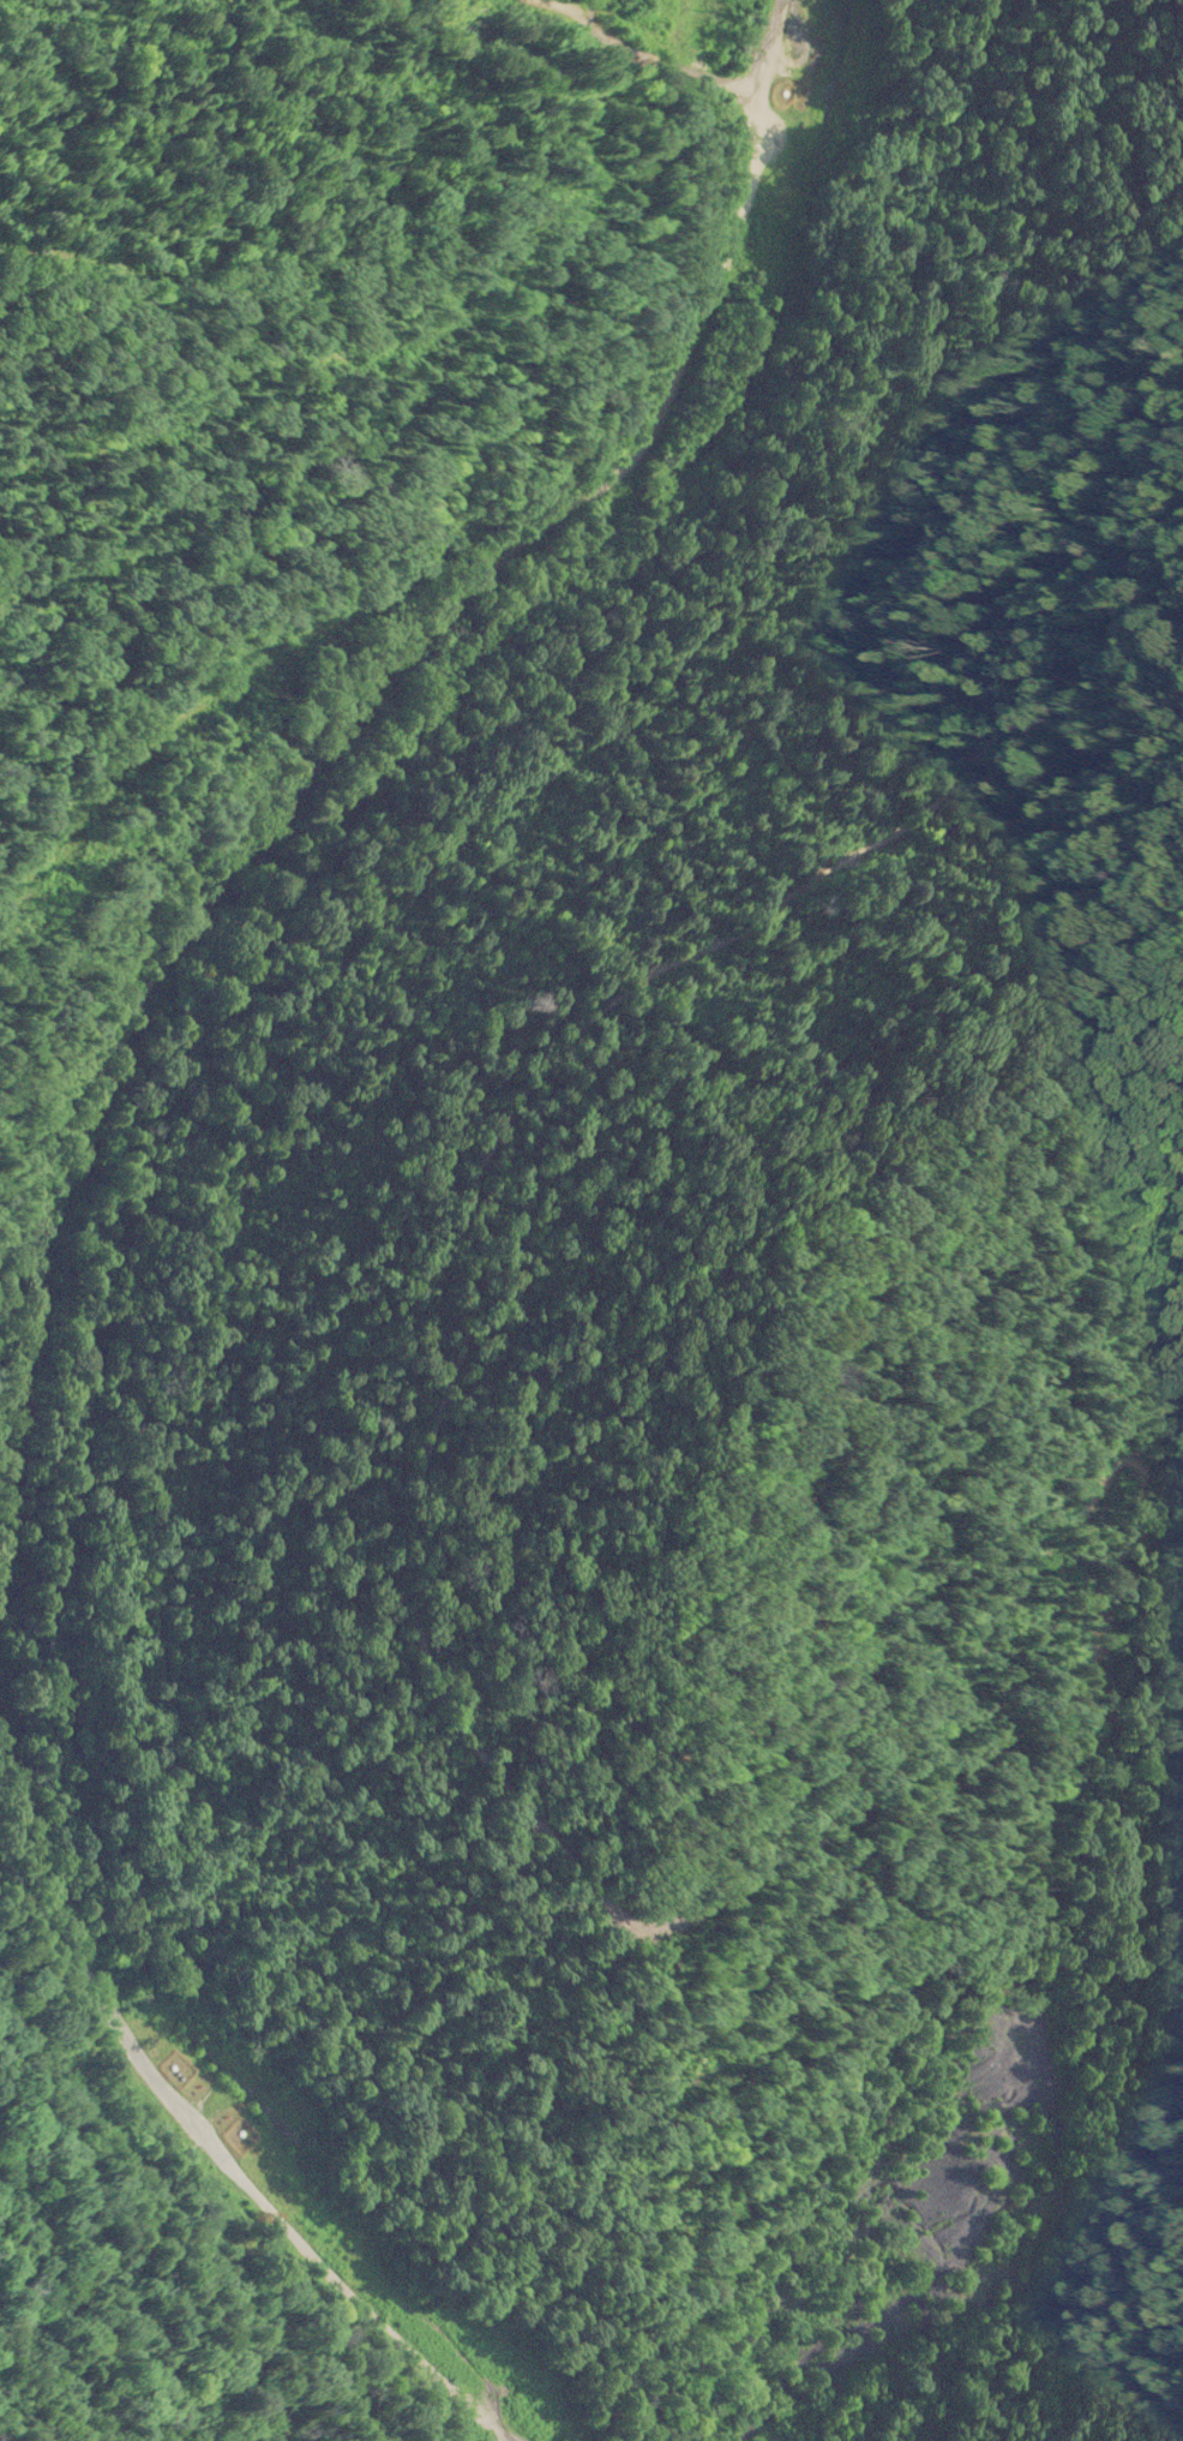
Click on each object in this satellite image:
road: (425, 551)
road: (445, 1805)
road: (167, 2225)

